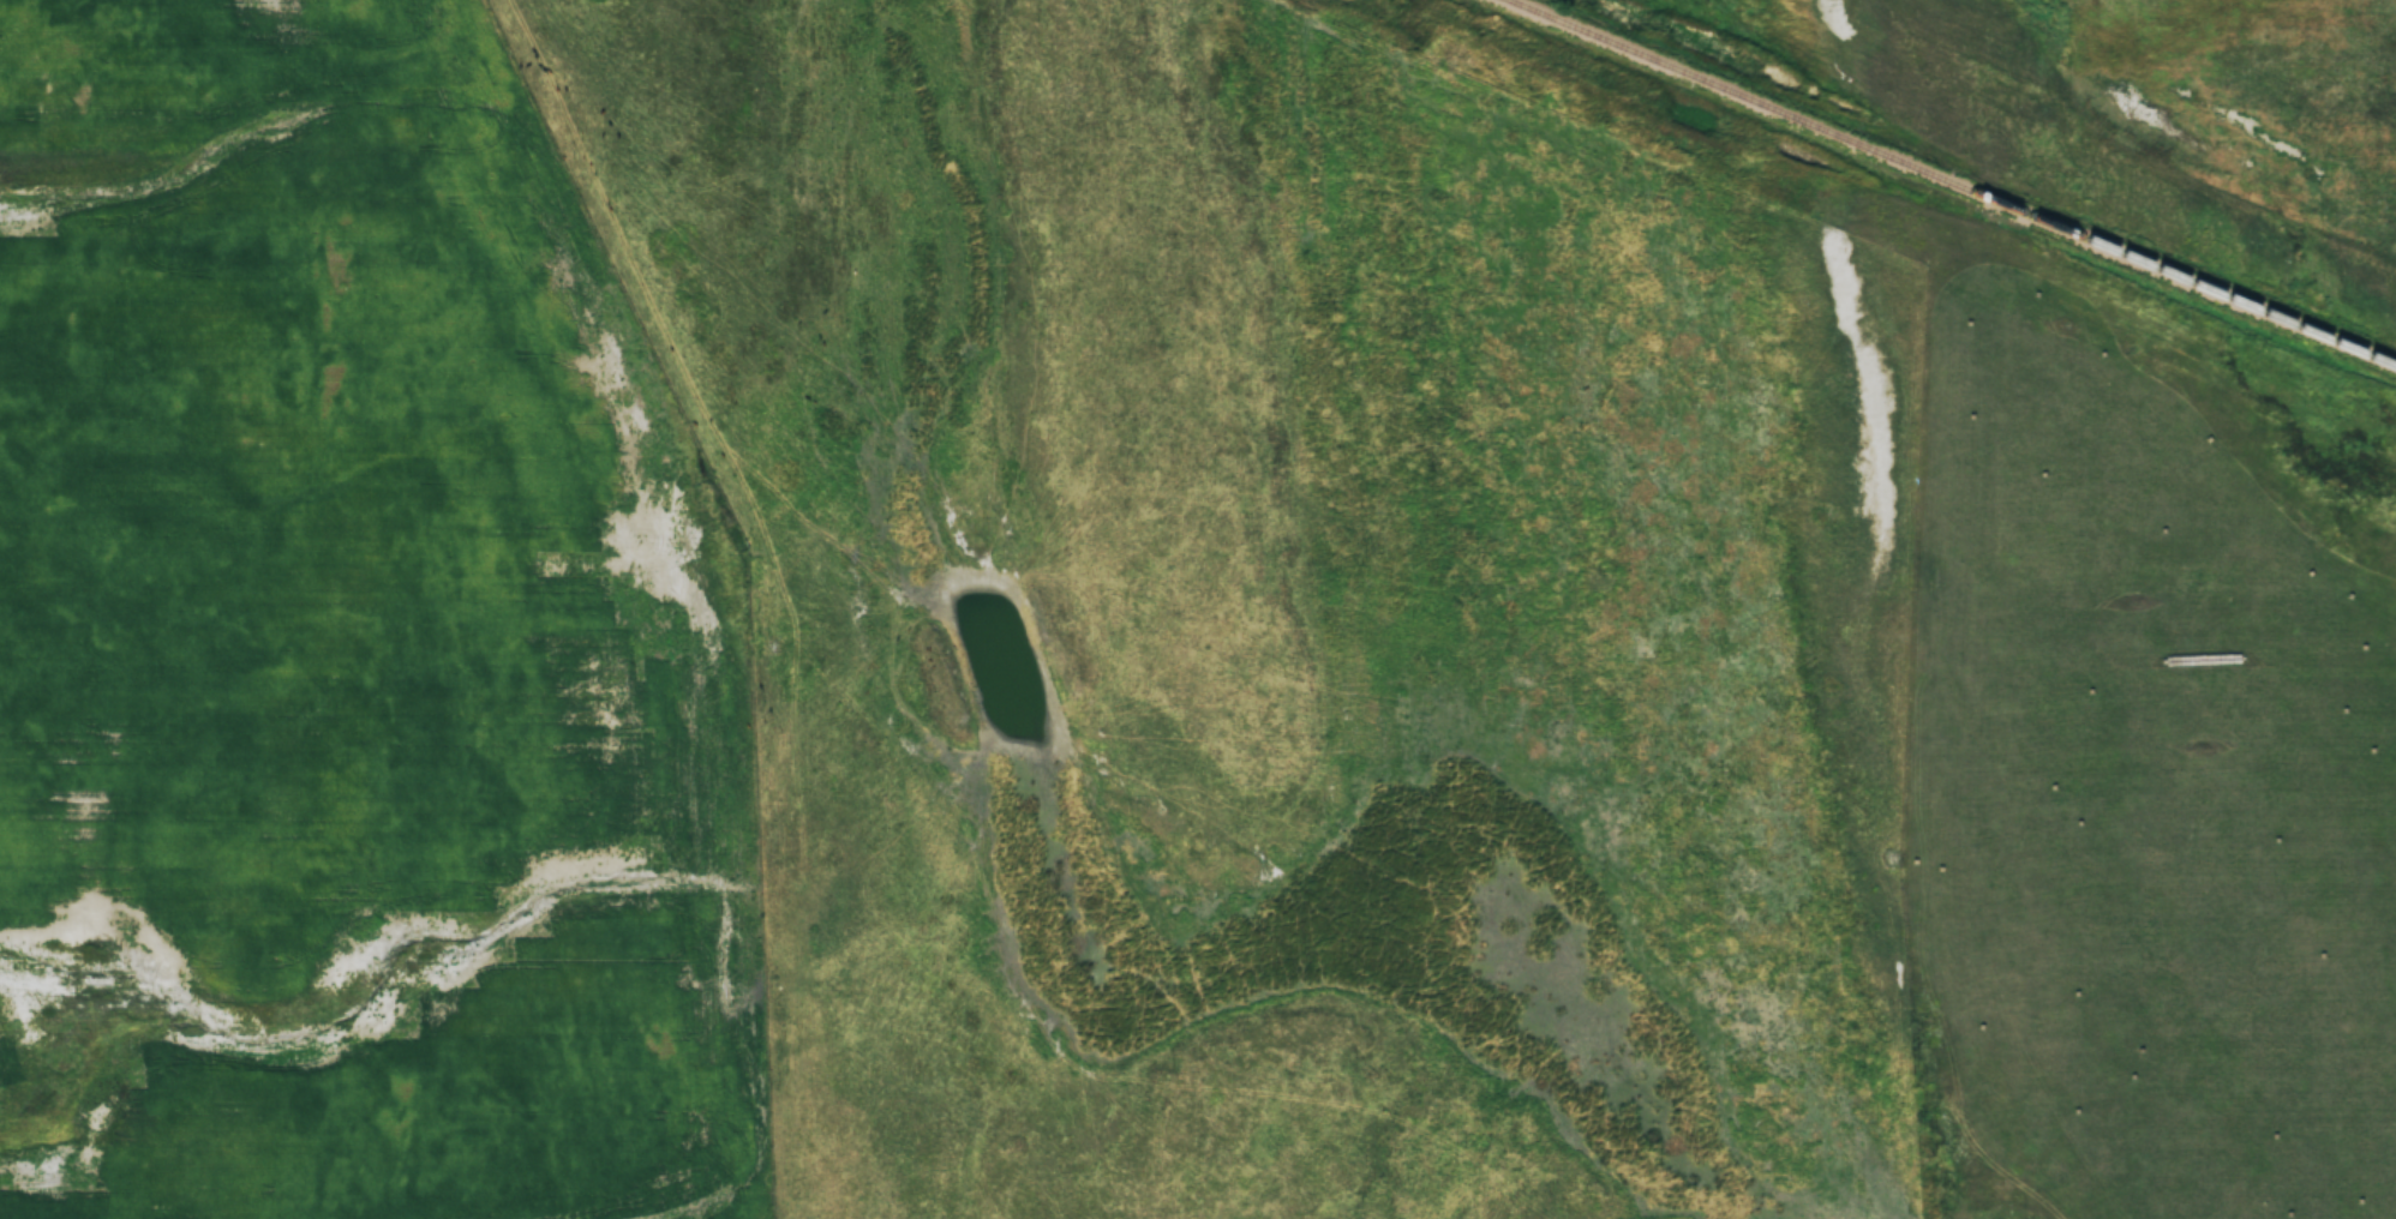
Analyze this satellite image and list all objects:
railway: (1952, 182)

